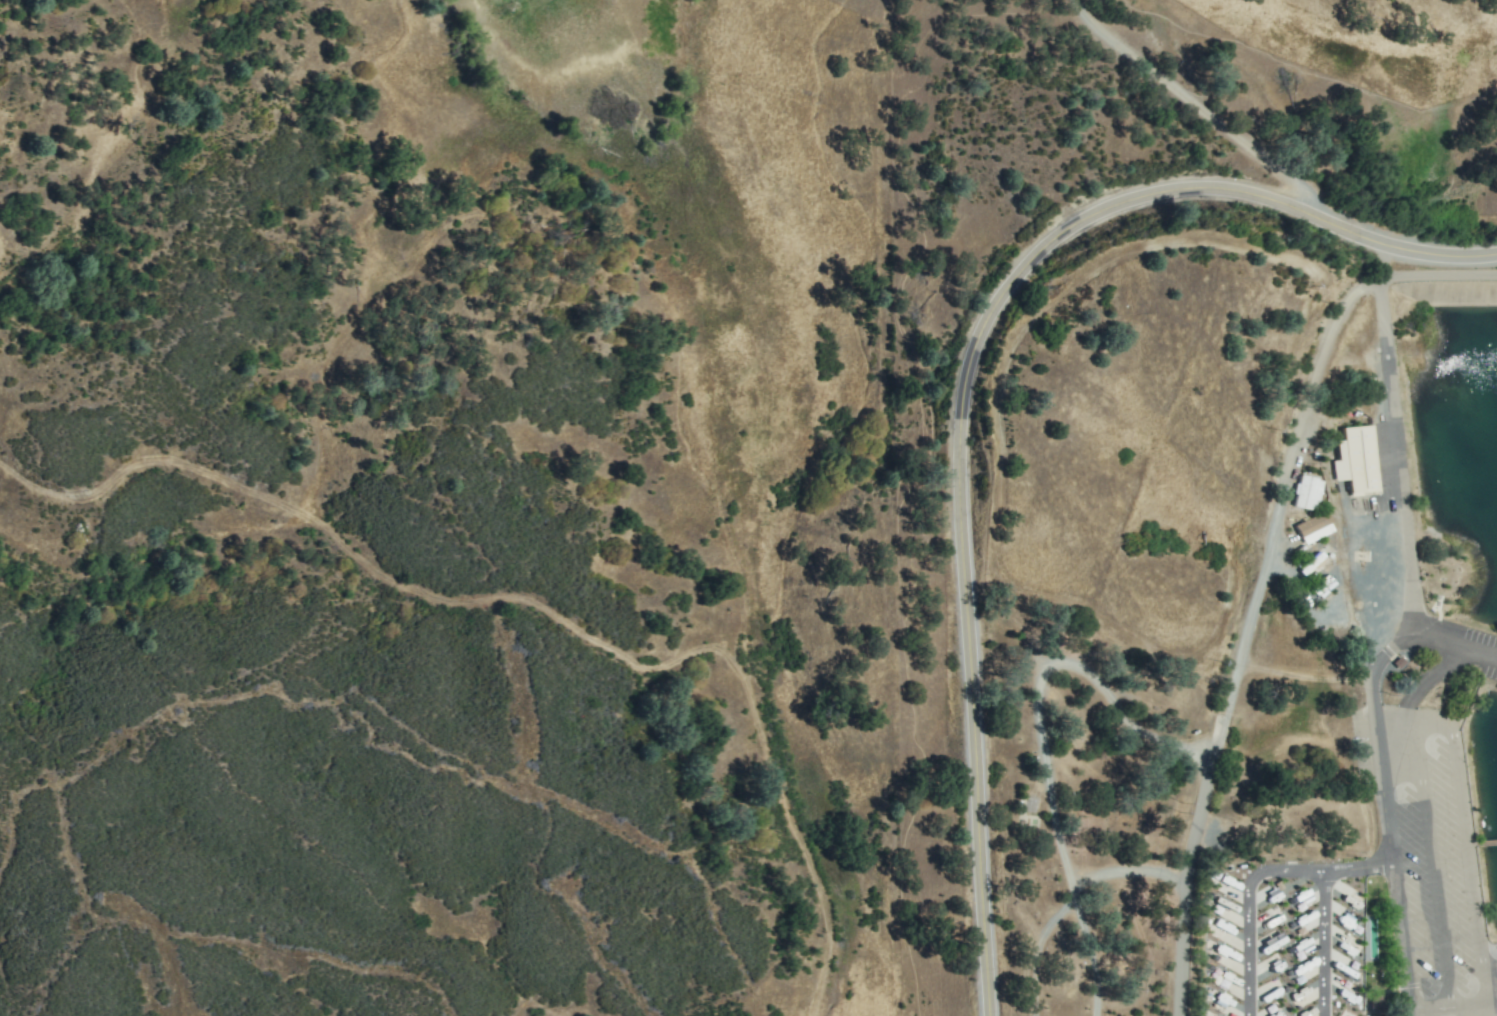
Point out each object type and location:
road: (1187, 103)
road: (1383, 267)
road: (960, 376)
building: (1356, 459)
road: (1292, 469)
building: (1306, 493)
building: (1314, 528)
road: (1041, 728)
road: (1428, 839)
building: (1306, 897)
building: (1301, 925)
building: (1305, 971)
building: (1225, 979)
building: (1300, 998)

